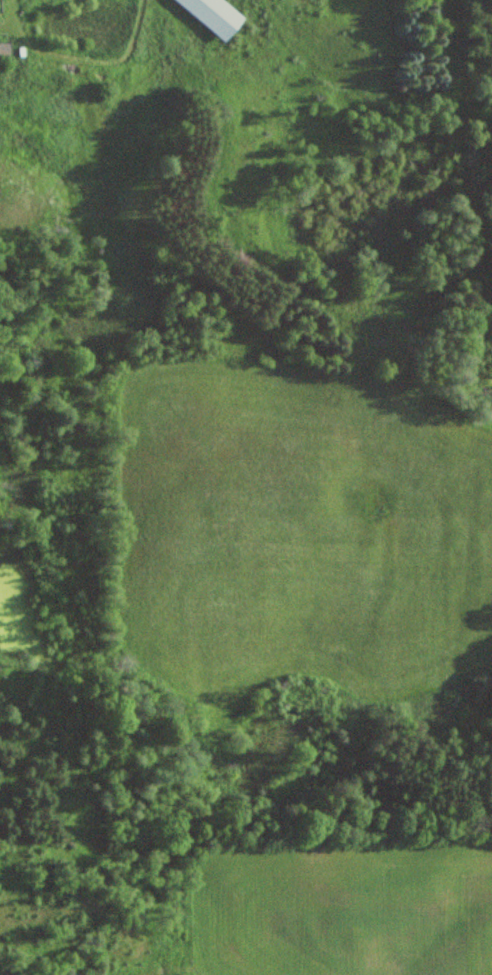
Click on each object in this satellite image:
building: (7, 50)

